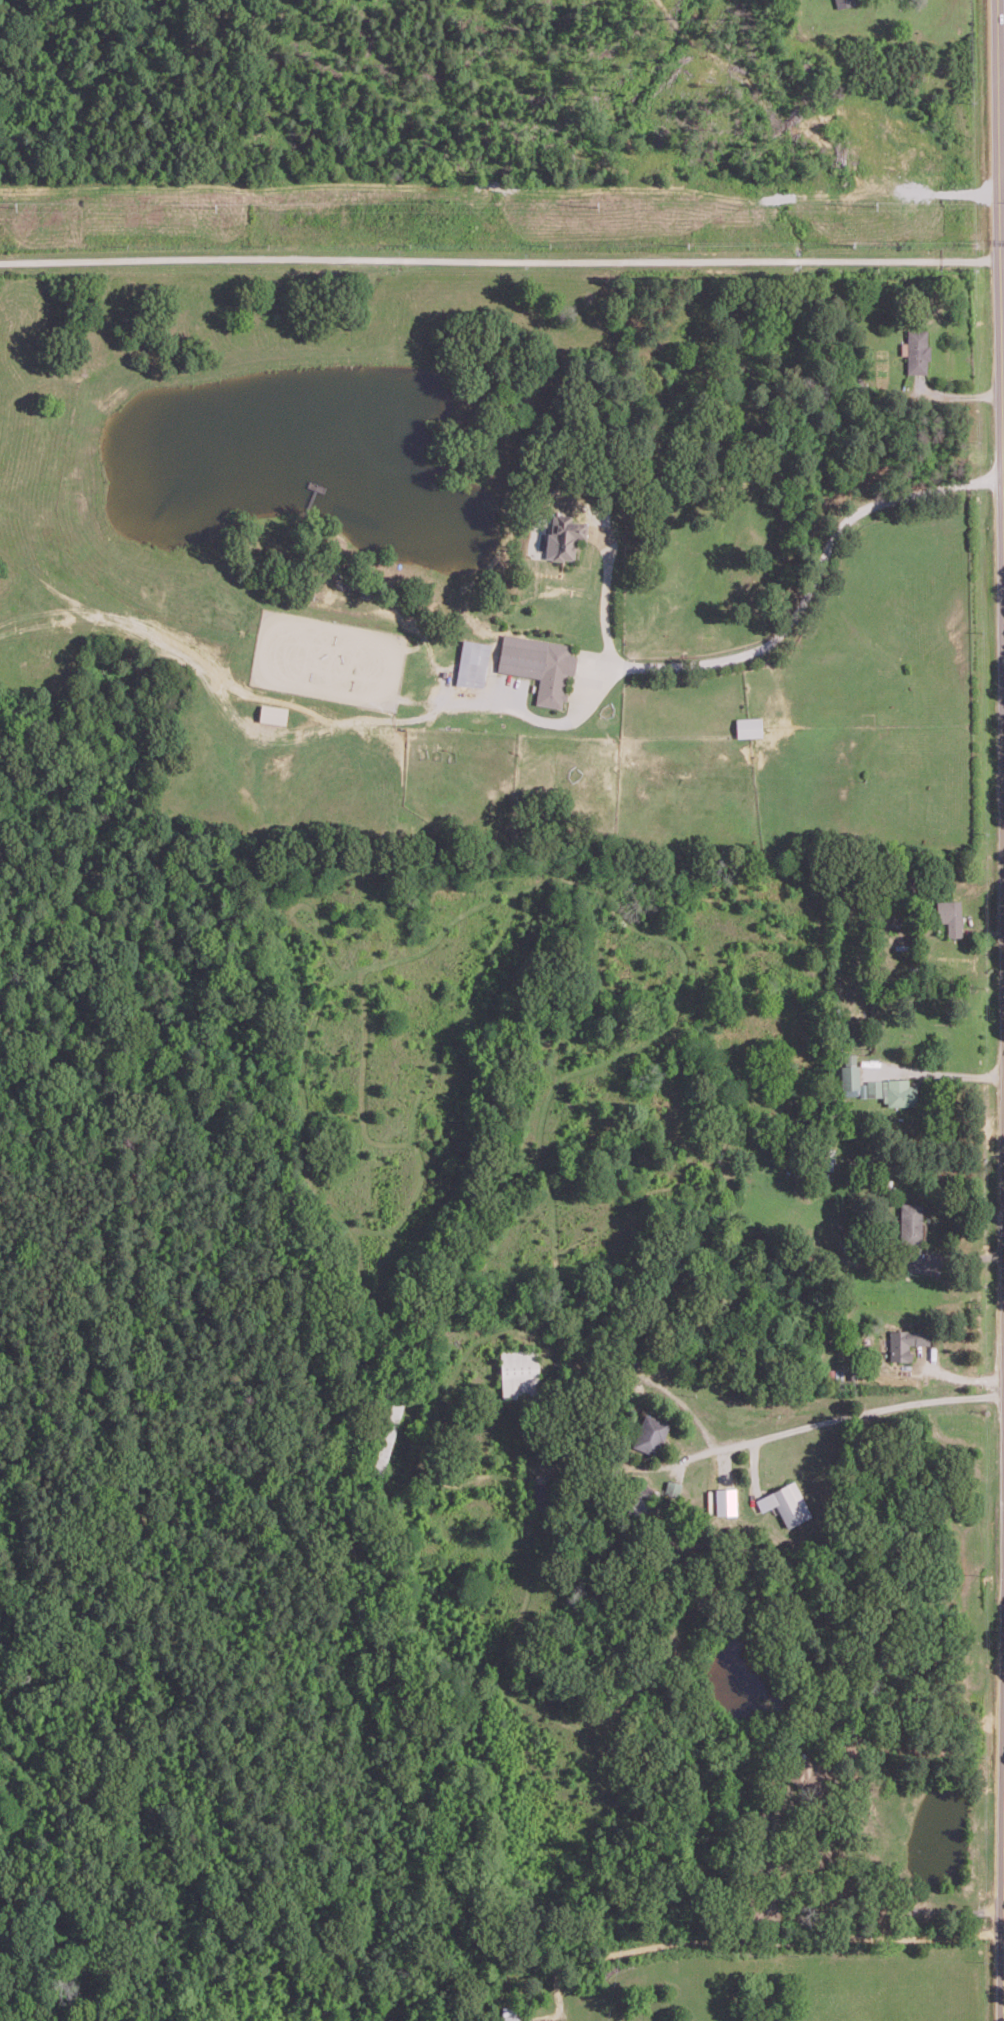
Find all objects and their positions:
building: (844, 3)
road: (500, 259)
road: (1001, 287)
road: (1002, 341)
building: (918, 351)
road: (1003, 433)
building: (563, 536)
road: (1003, 536)
road: (806, 592)
road: (607, 614)
building: (472, 662)
building: (539, 664)
building: (272, 713)
building: (748, 726)
building: (951, 916)
road: (940, 1073)
building: (849, 1079)
building: (893, 1091)
building: (911, 1231)
building: (905, 1343)
building: (519, 1372)
building: (391, 1423)
building: (650, 1433)
road: (767, 1434)
road: (640, 1465)
building: (672, 1486)
building: (725, 1500)
building: (786, 1503)
building: (808, 1773)
road: (847, 1896)
building: (770, 1901)
building: (508, 2013)

